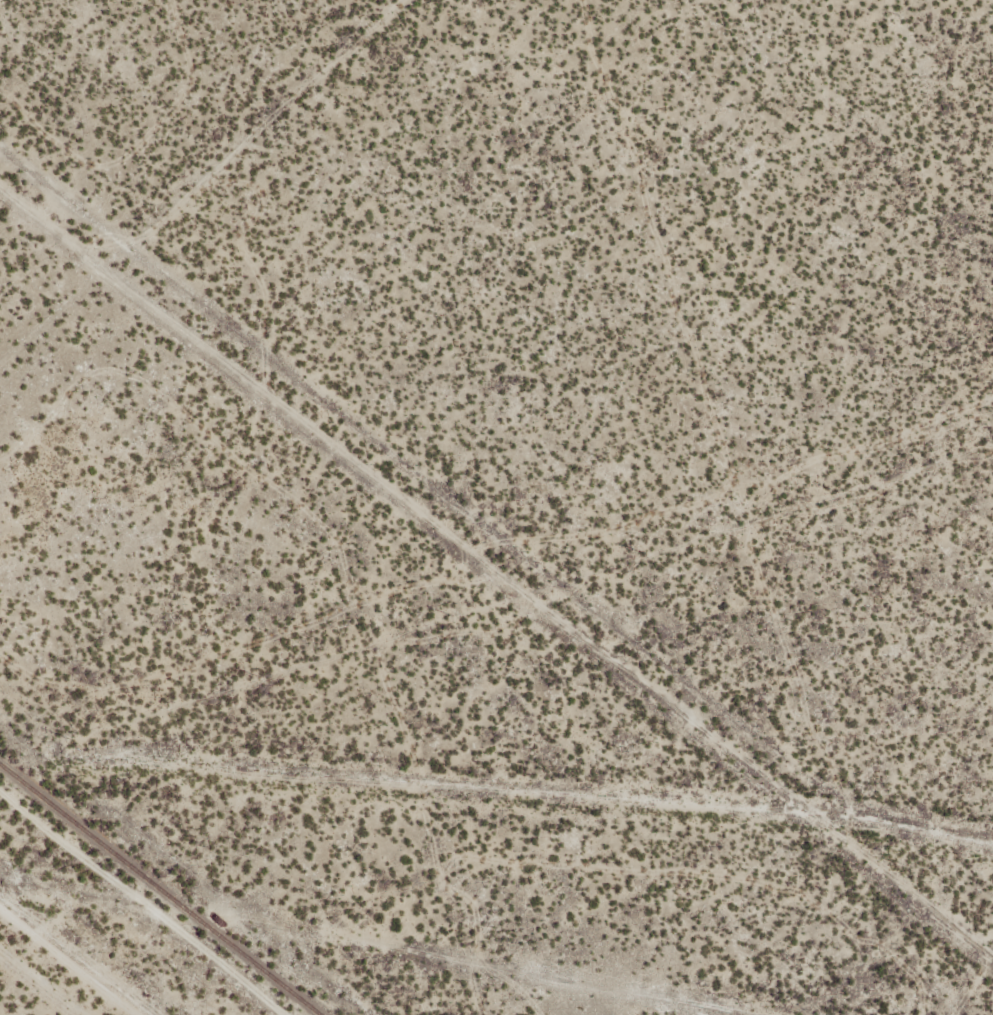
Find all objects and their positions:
railway: (158, 889)

